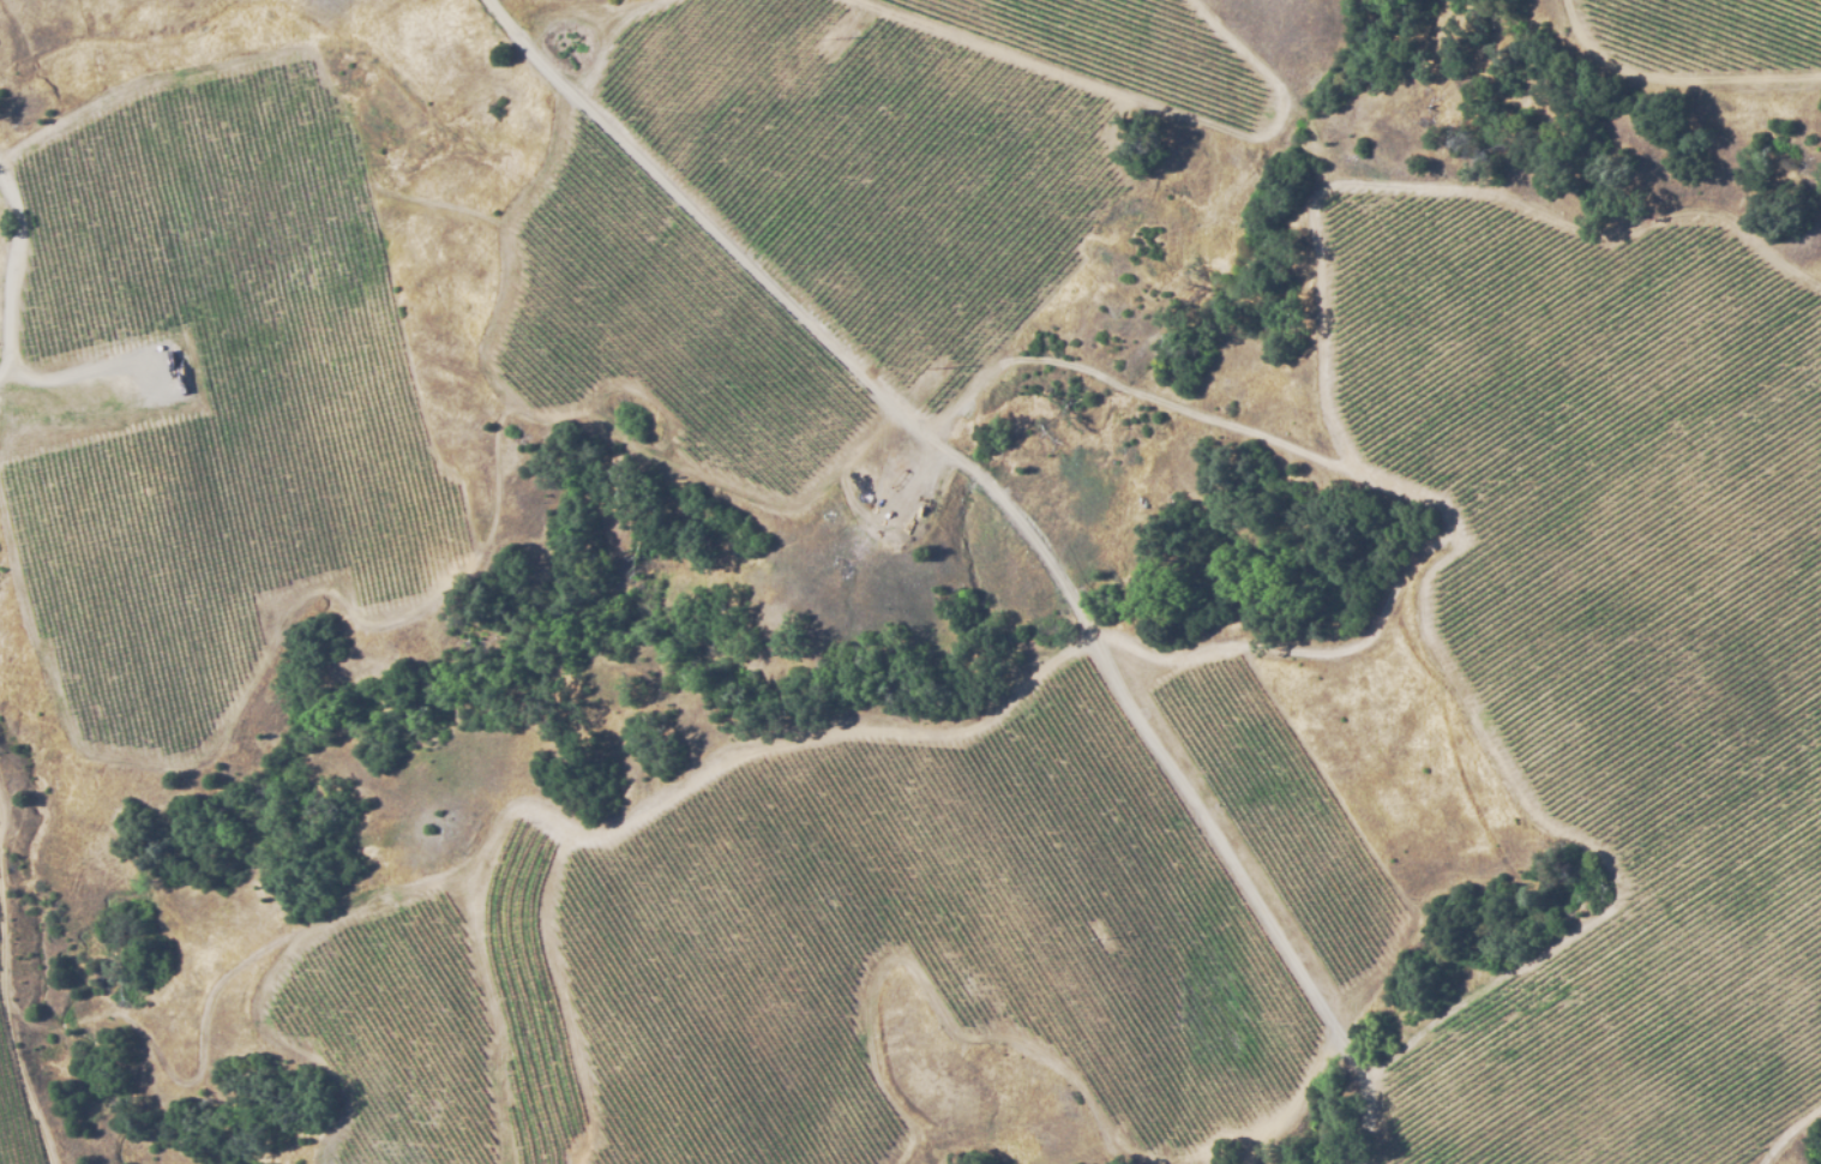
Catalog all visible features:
road: (16, 271)

